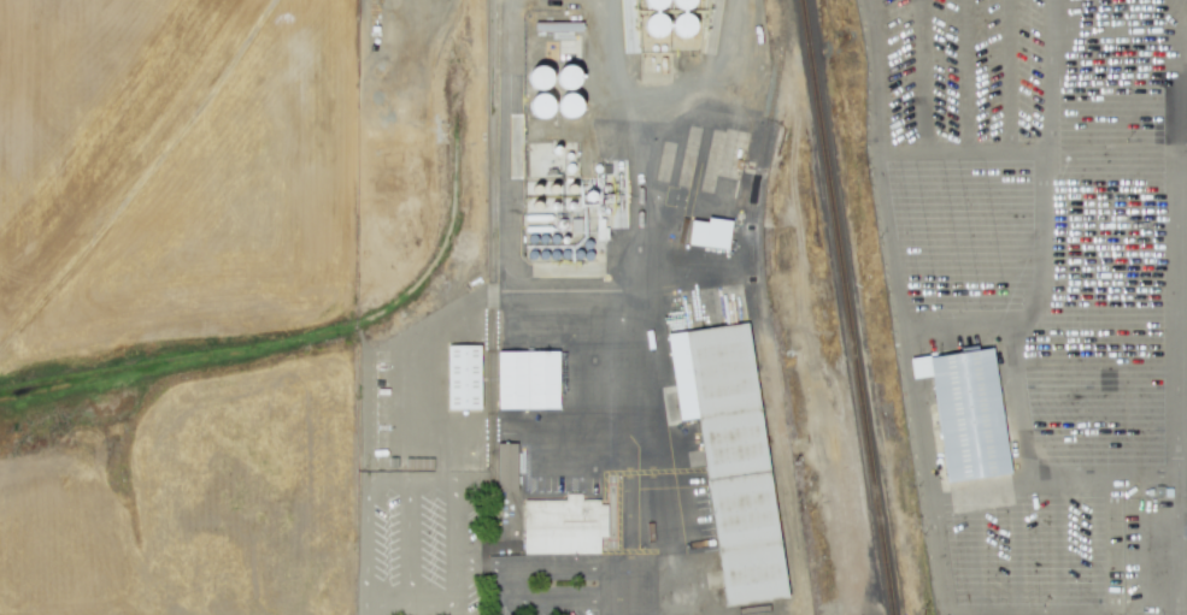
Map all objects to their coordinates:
building: (656, 4)
building: (682, 4)
road: (615, 6)
road: (421, 23)
building: (682, 24)
building: (656, 25)
road: (1117, 25)
building: (557, 26)
building: (540, 77)
building: (566, 77)
road: (1117, 77)
road: (704, 78)
building: (540, 105)
building: (566, 105)
road: (1117, 126)
road: (625, 135)
road: (505, 146)
road: (959, 150)
road: (1046, 150)
railway: (757, 181)
road: (139, 187)
building: (707, 232)
road: (605, 292)
railway: (848, 307)
road: (897, 307)
road: (971, 320)
road: (1173, 369)
building: (462, 377)
building: (527, 379)
road: (1016, 395)
building: (965, 412)
road: (583, 442)
building: (731, 456)
building: (505, 466)
road: (1099, 480)
road: (452, 487)
building: (563, 525)
road: (1017, 544)
road: (407, 545)
road: (1099, 548)
road: (511, 568)
road: (616, 605)
road: (374, 609)

